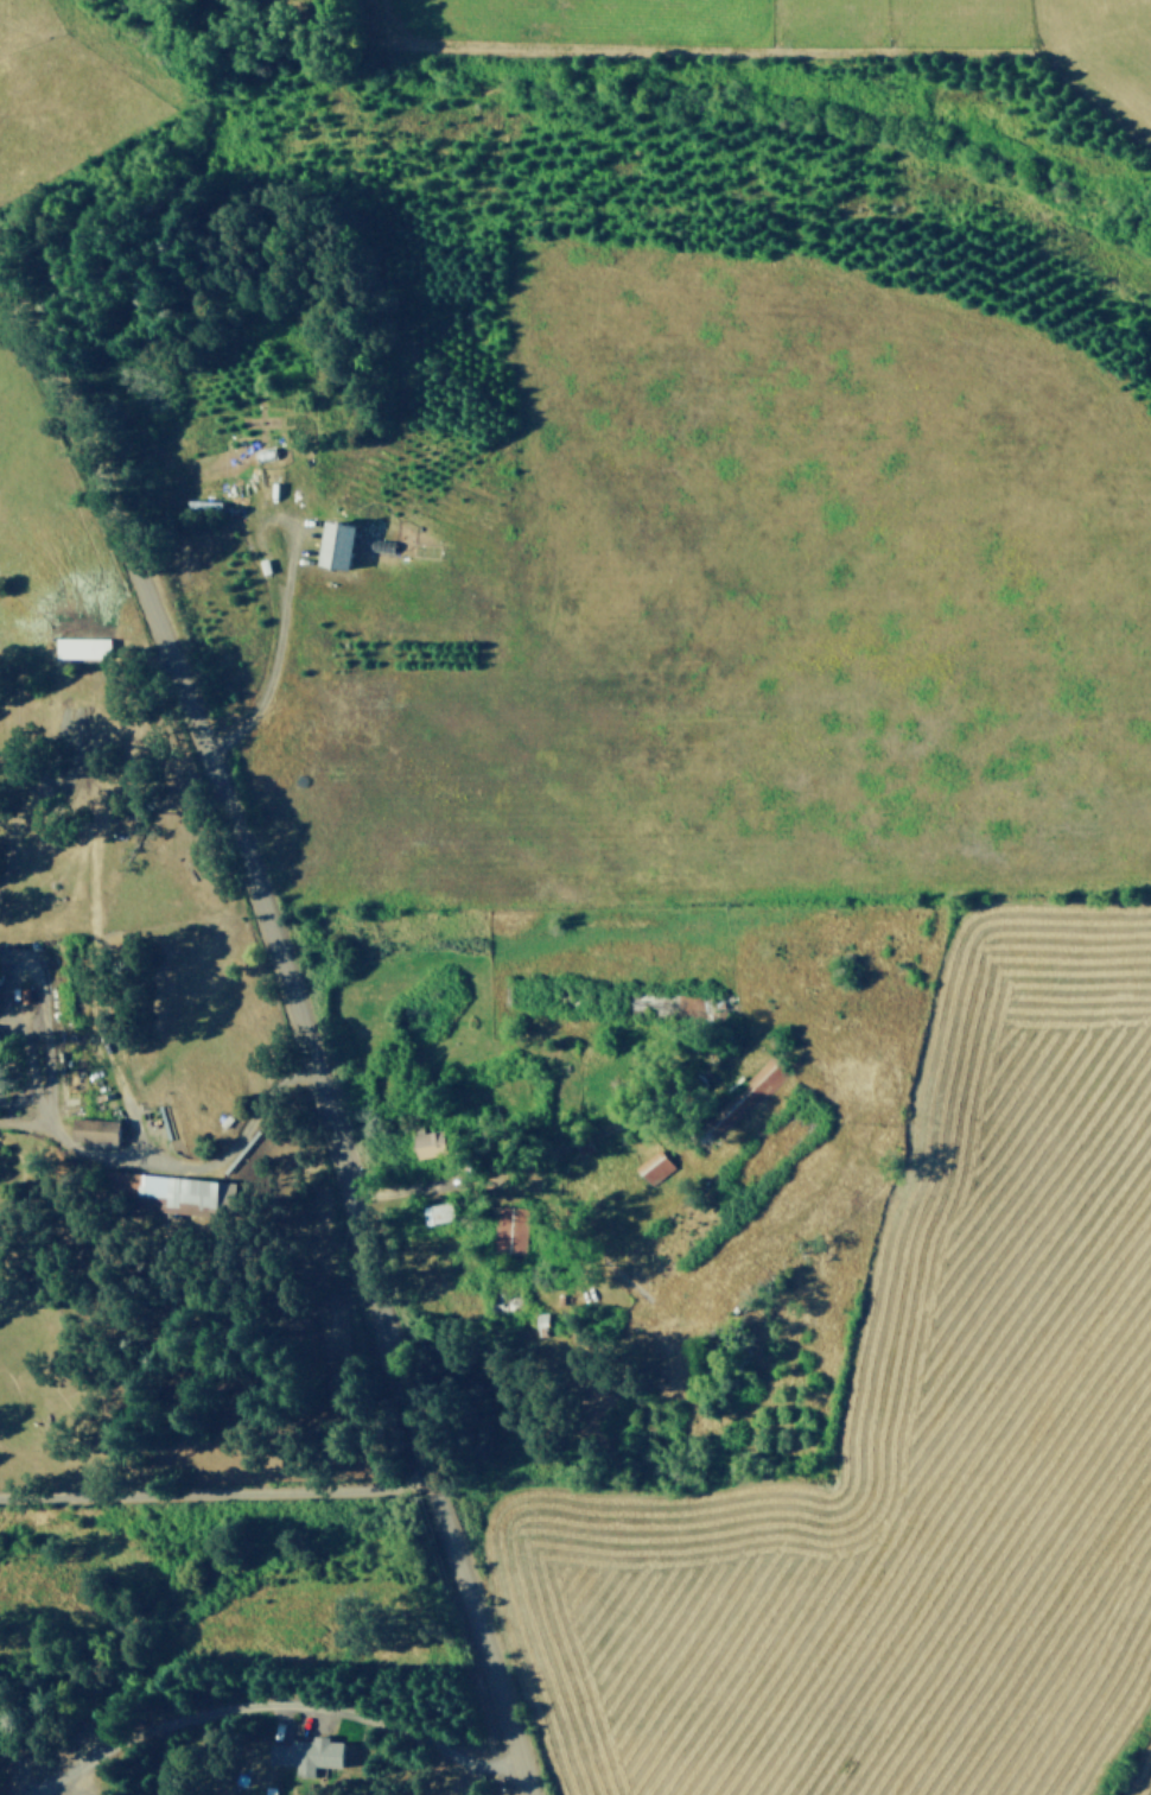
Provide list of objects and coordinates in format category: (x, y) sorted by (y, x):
building: (333, 544)
building: (80, 643)
road: (268, 655)
crop: (651, 813)
road: (298, 1022)
building: (689, 1086)
building: (756, 1086)
building: (91, 1127)
building: (428, 1140)
road: (144, 1159)
road: (489, 1161)
building: (651, 1166)
building: (165, 1187)
building: (433, 1210)
building: (508, 1228)
road: (214, 1490)
road: (274, 1701)
building: (304, 1751)

